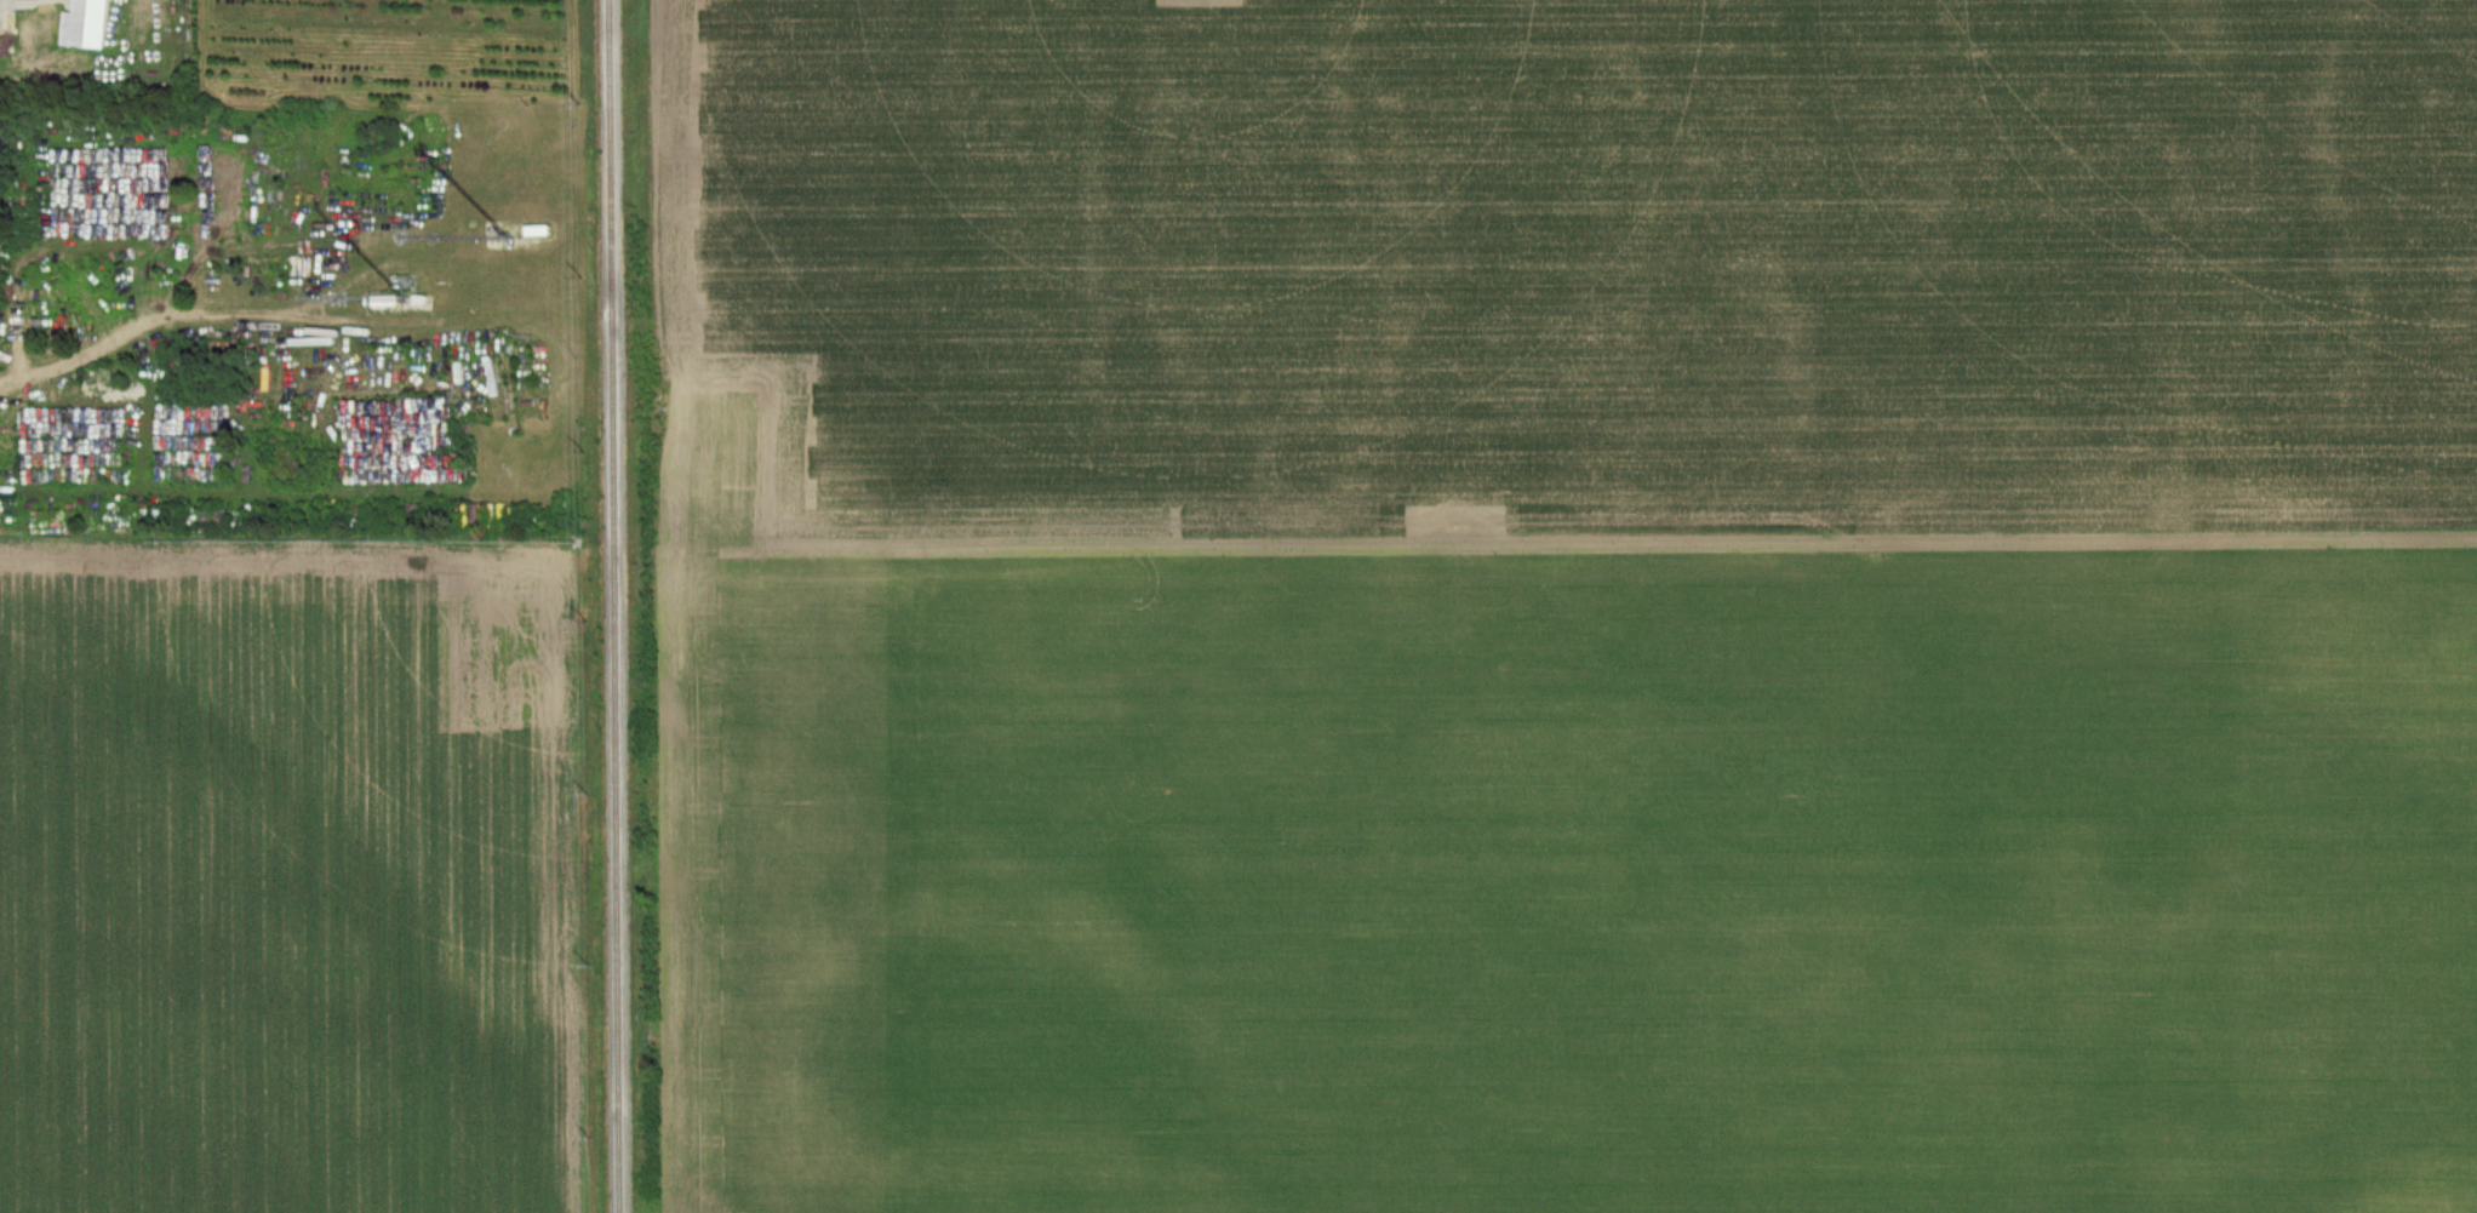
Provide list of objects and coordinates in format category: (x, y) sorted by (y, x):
building: (93, 27)
road: (161, 326)
building: (132, 359)
railway: (611, 606)
crop: (1583, 606)
crop: (292, 882)

